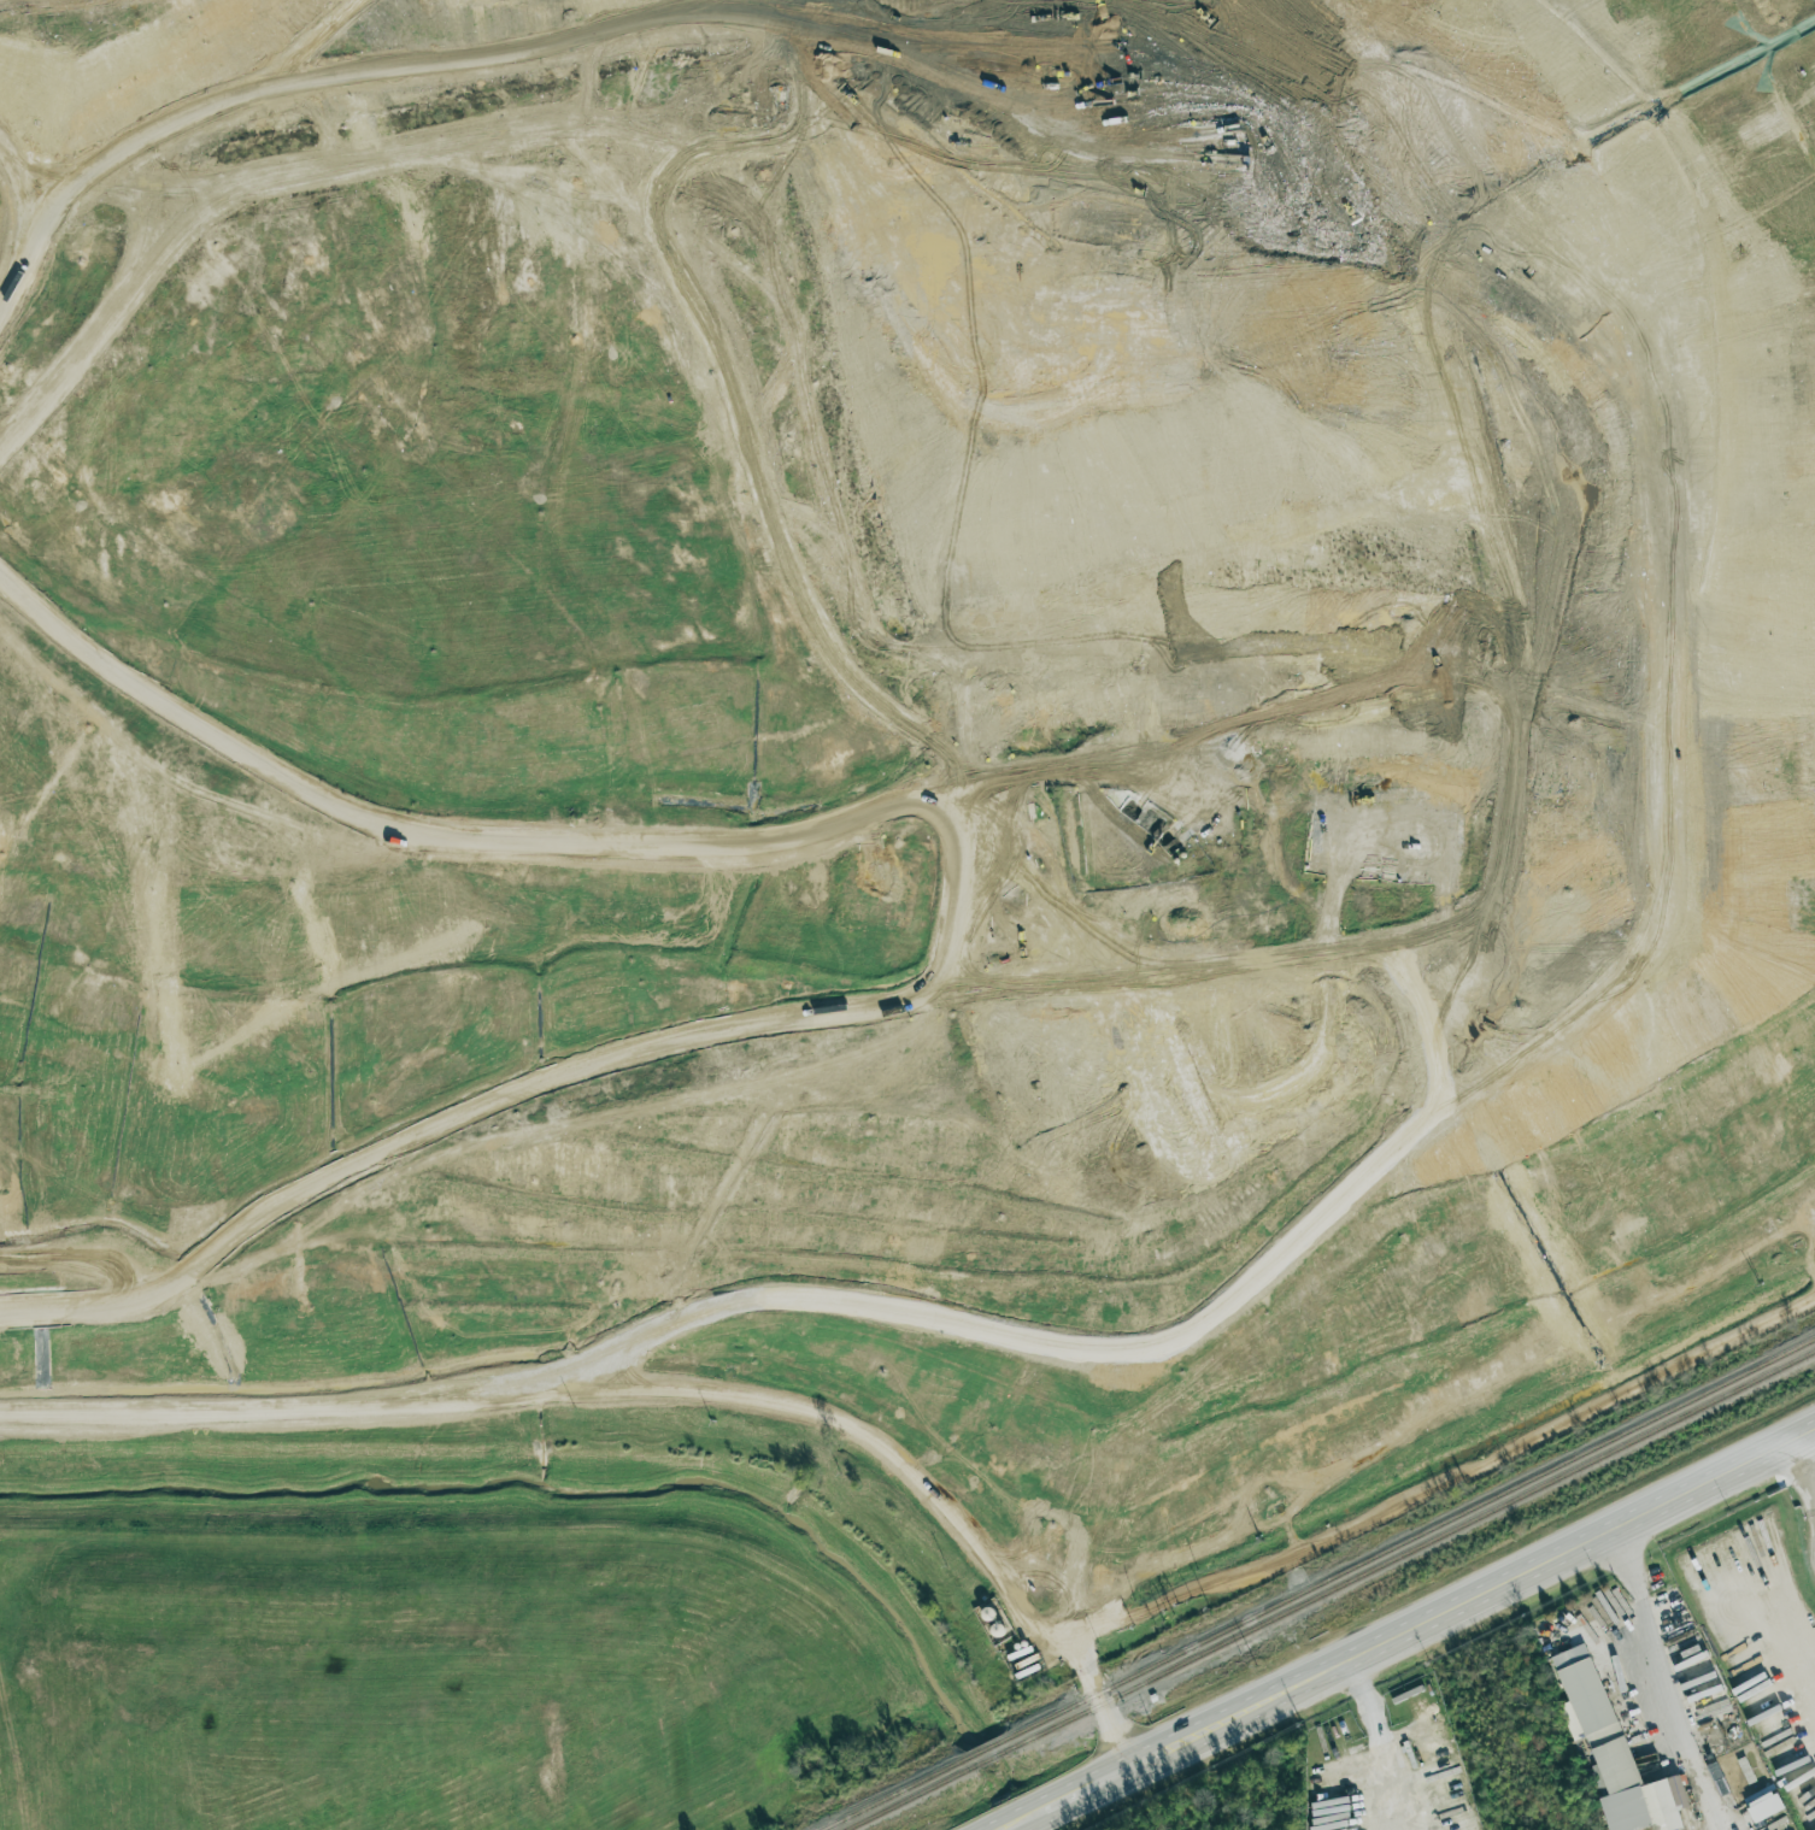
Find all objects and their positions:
landfill: (905, 735)
road: (958, 792)
road: (659, 1379)
road: (1803, 1463)
road: (1449, 1477)
railway: (1317, 1582)
railway: (1328, 1589)
road: (1410, 1629)
road: (1664, 1677)
road: (1770, 1711)
road: (1380, 1744)
building: (1614, 1750)
building: (1763, 1803)

